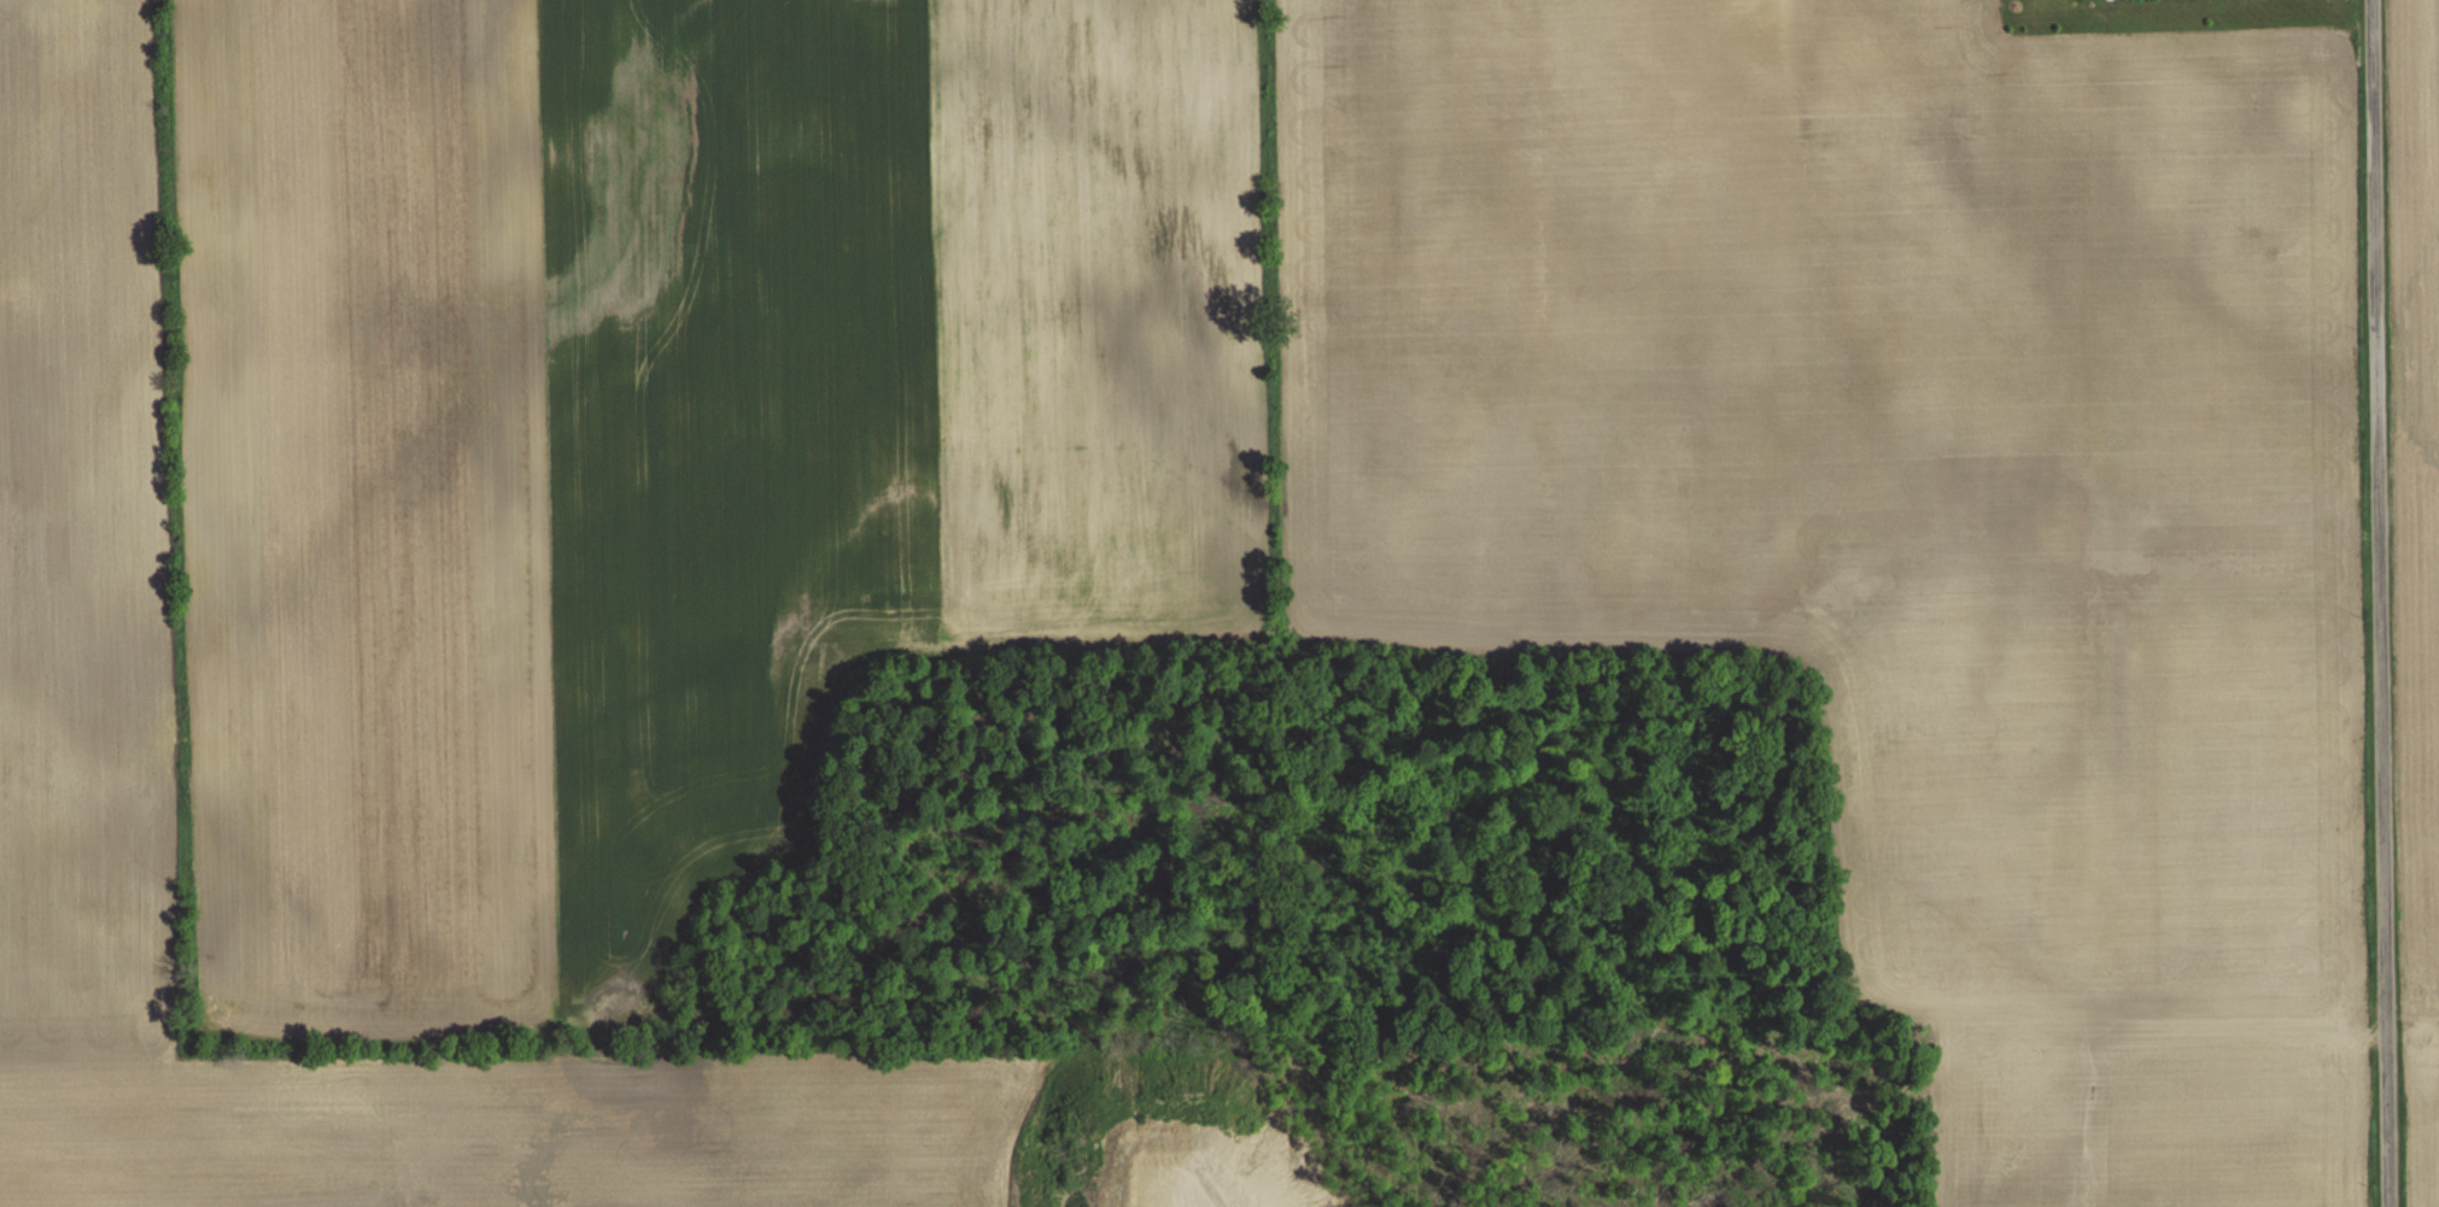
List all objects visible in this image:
road: (2376, 603)

